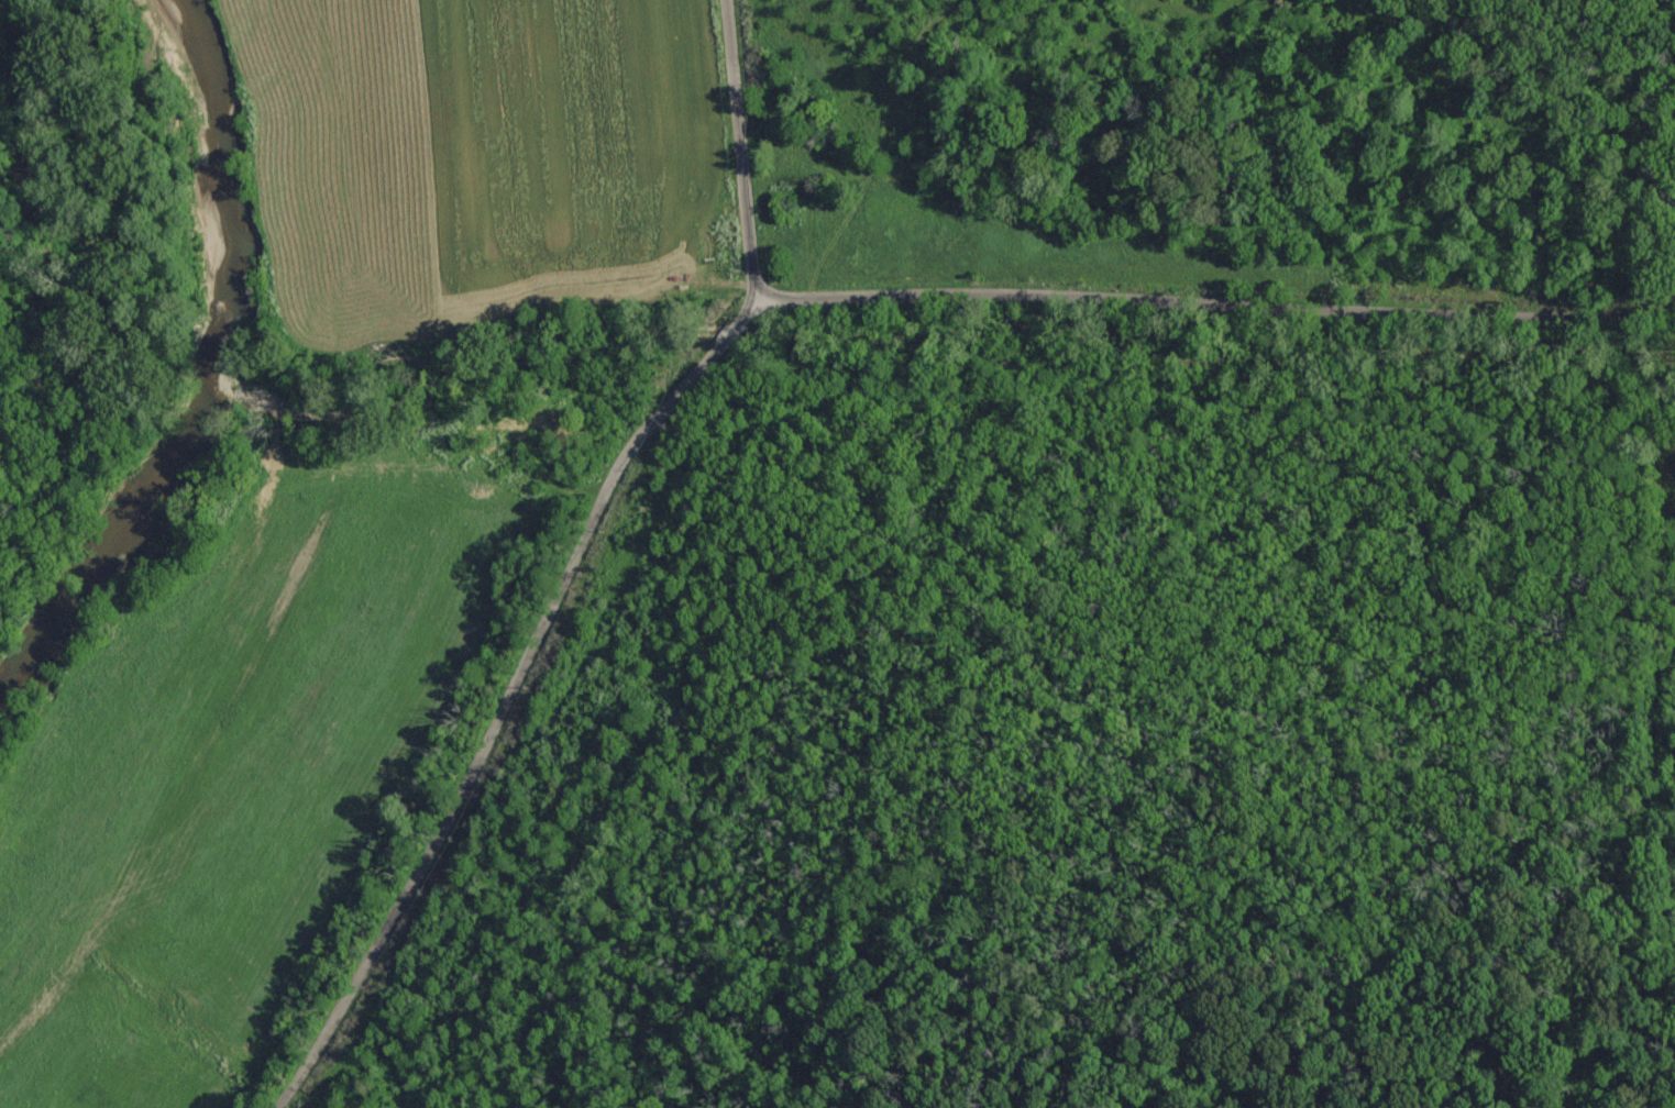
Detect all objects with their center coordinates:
road: (740, 152)
road: (1215, 301)
road: (507, 698)

